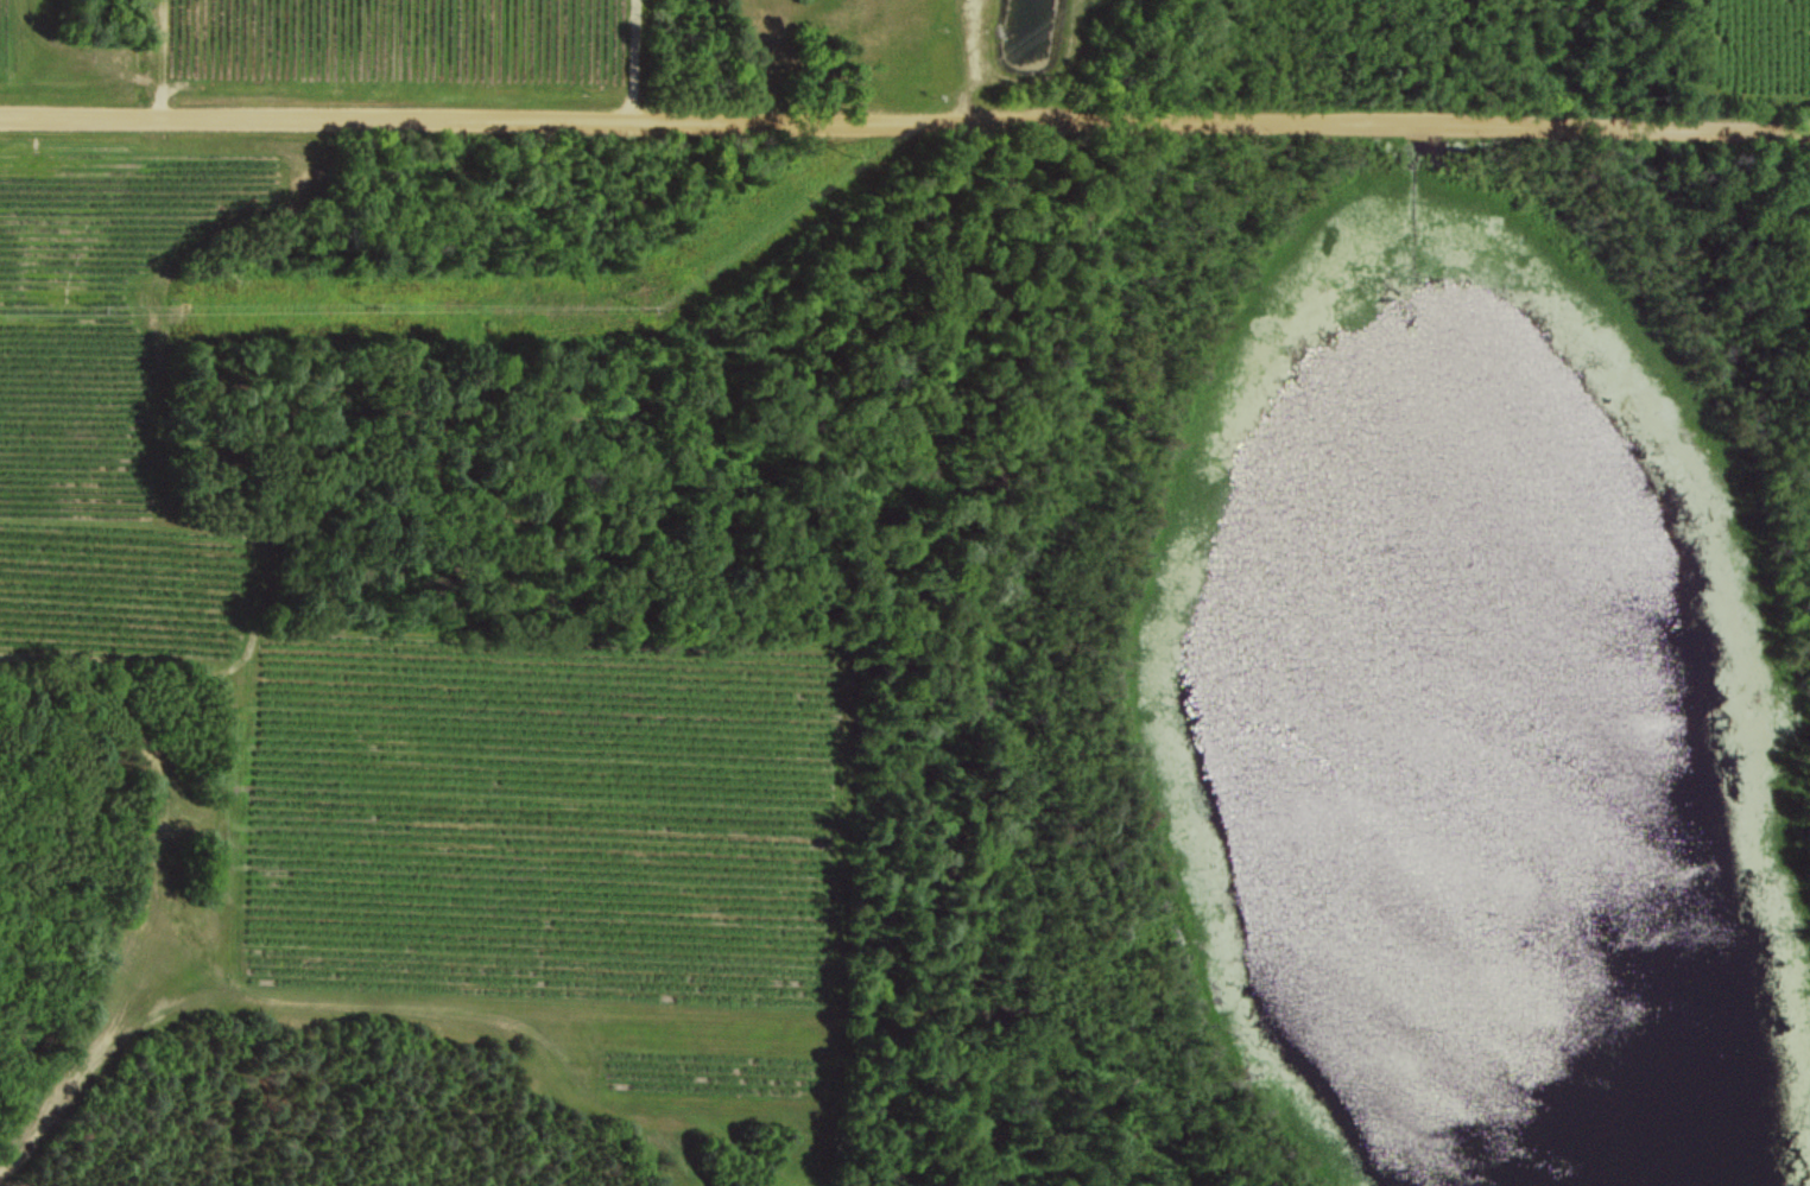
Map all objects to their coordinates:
road: (905, 125)

